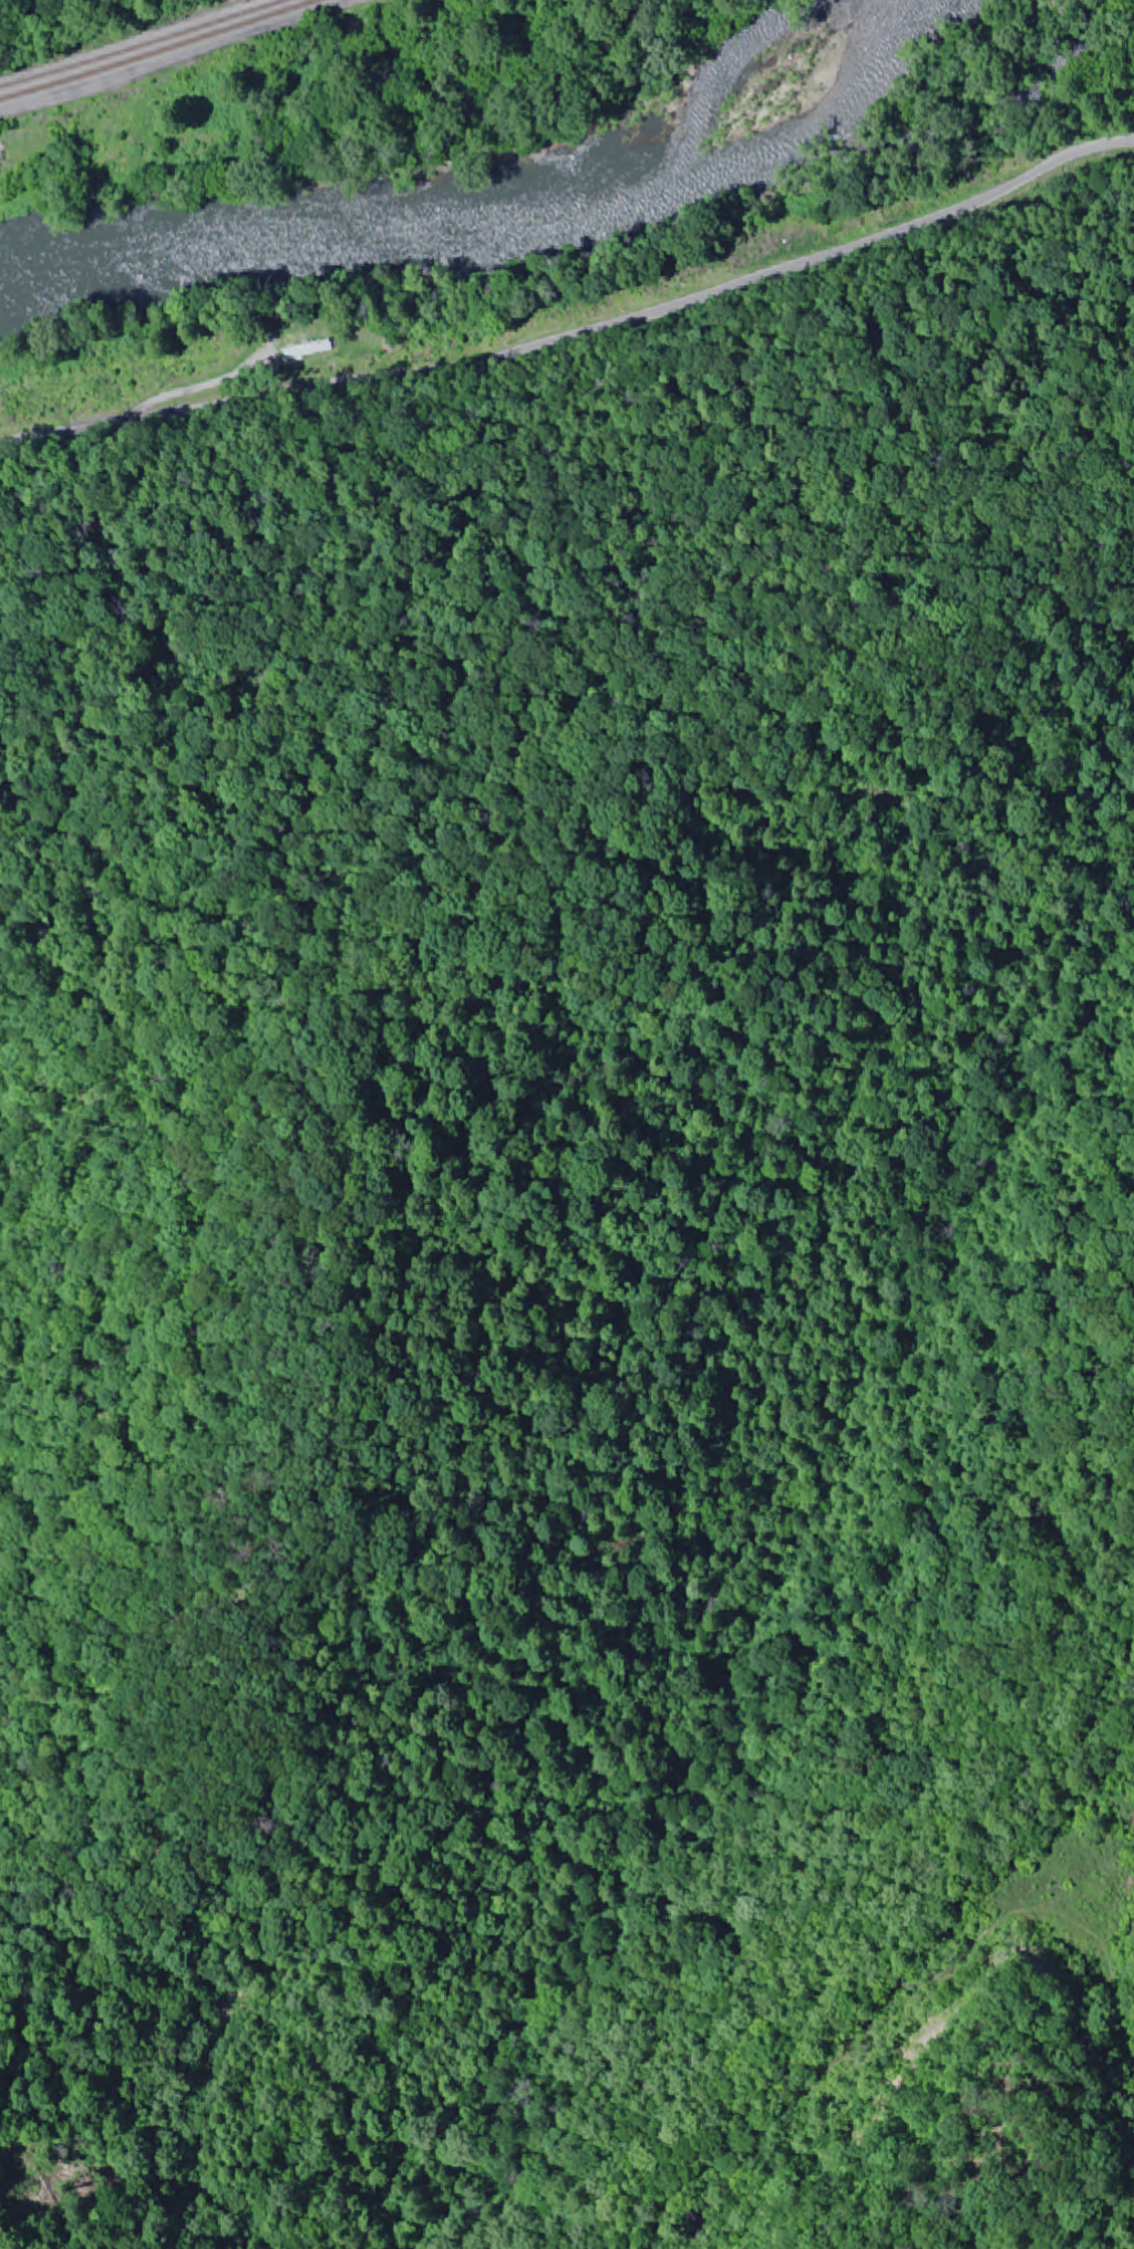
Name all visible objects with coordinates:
railway: (150, 47)
road: (183, 58)
river: (476, 205)
road: (575, 297)

